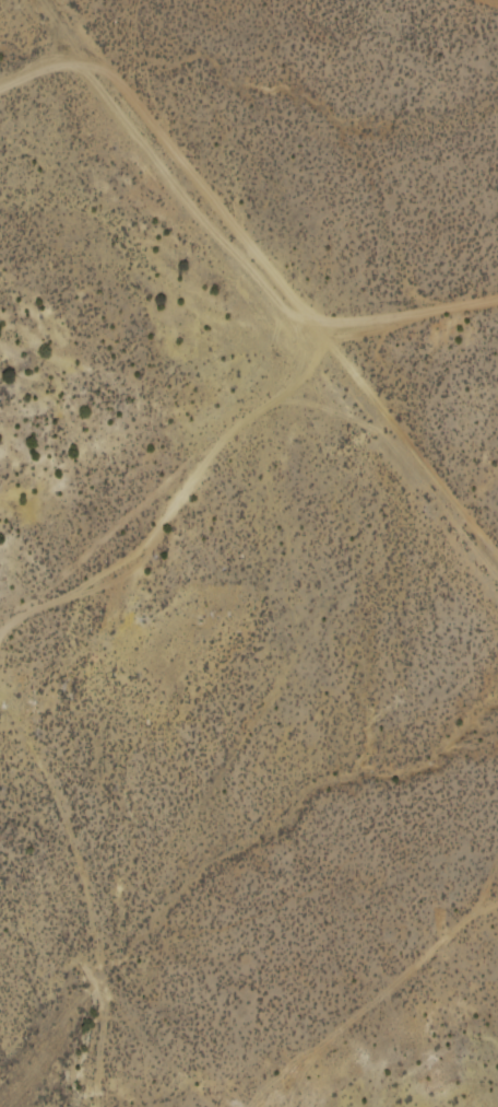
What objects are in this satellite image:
road: (490, 1)
road: (41, 73)
road: (276, 278)
road: (233, 438)
road: (75, 875)
road: (381, 1006)

